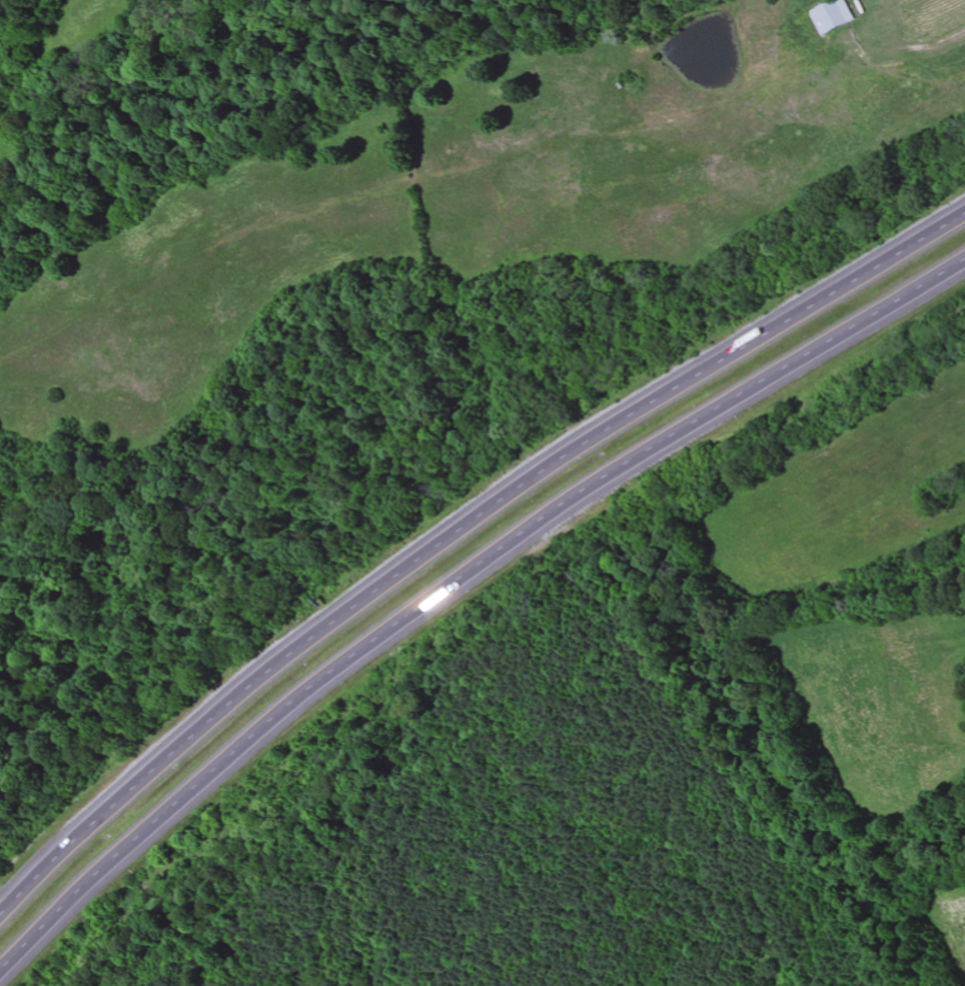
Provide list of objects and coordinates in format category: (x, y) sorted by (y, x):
building: (832, 17)
road: (13, 79)
road: (459, 530)
road: (457, 579)

